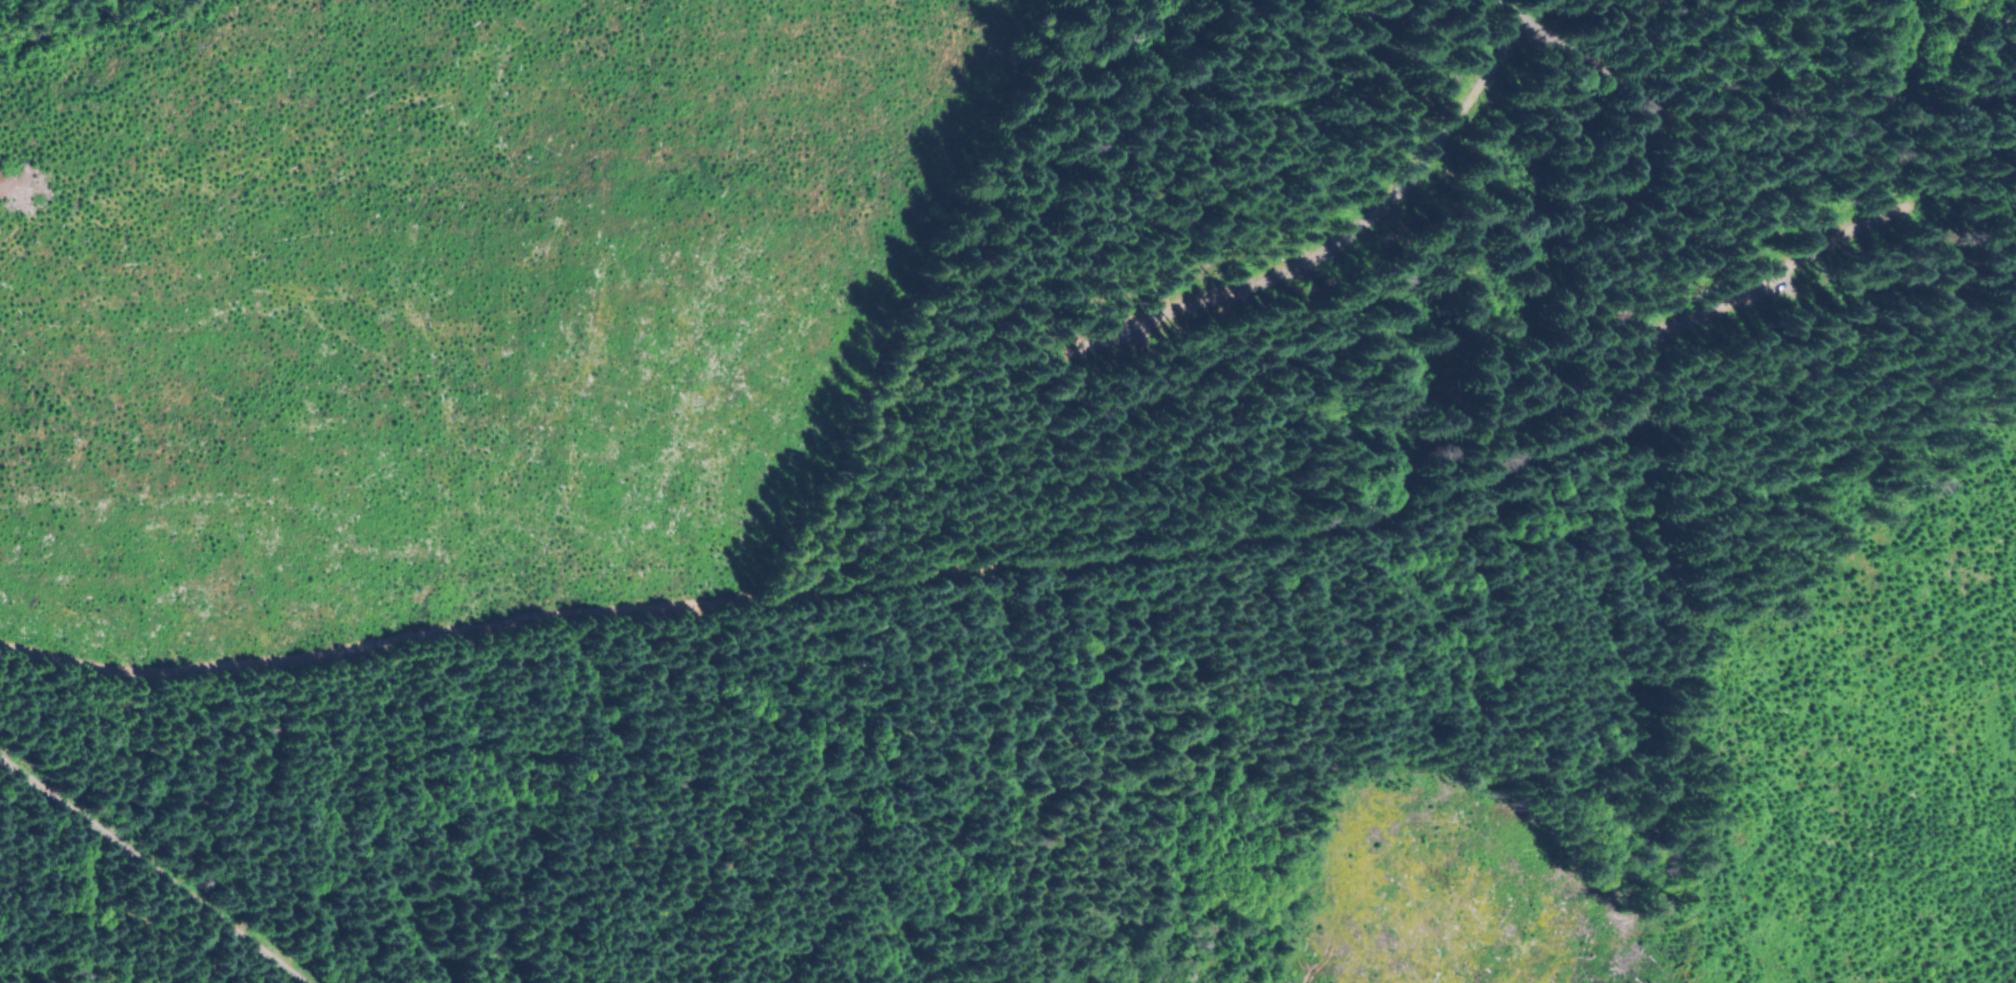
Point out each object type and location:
road: (1591, 64)
road: (1915, 64)
road: (1135, 552)
road: (150, 872)

